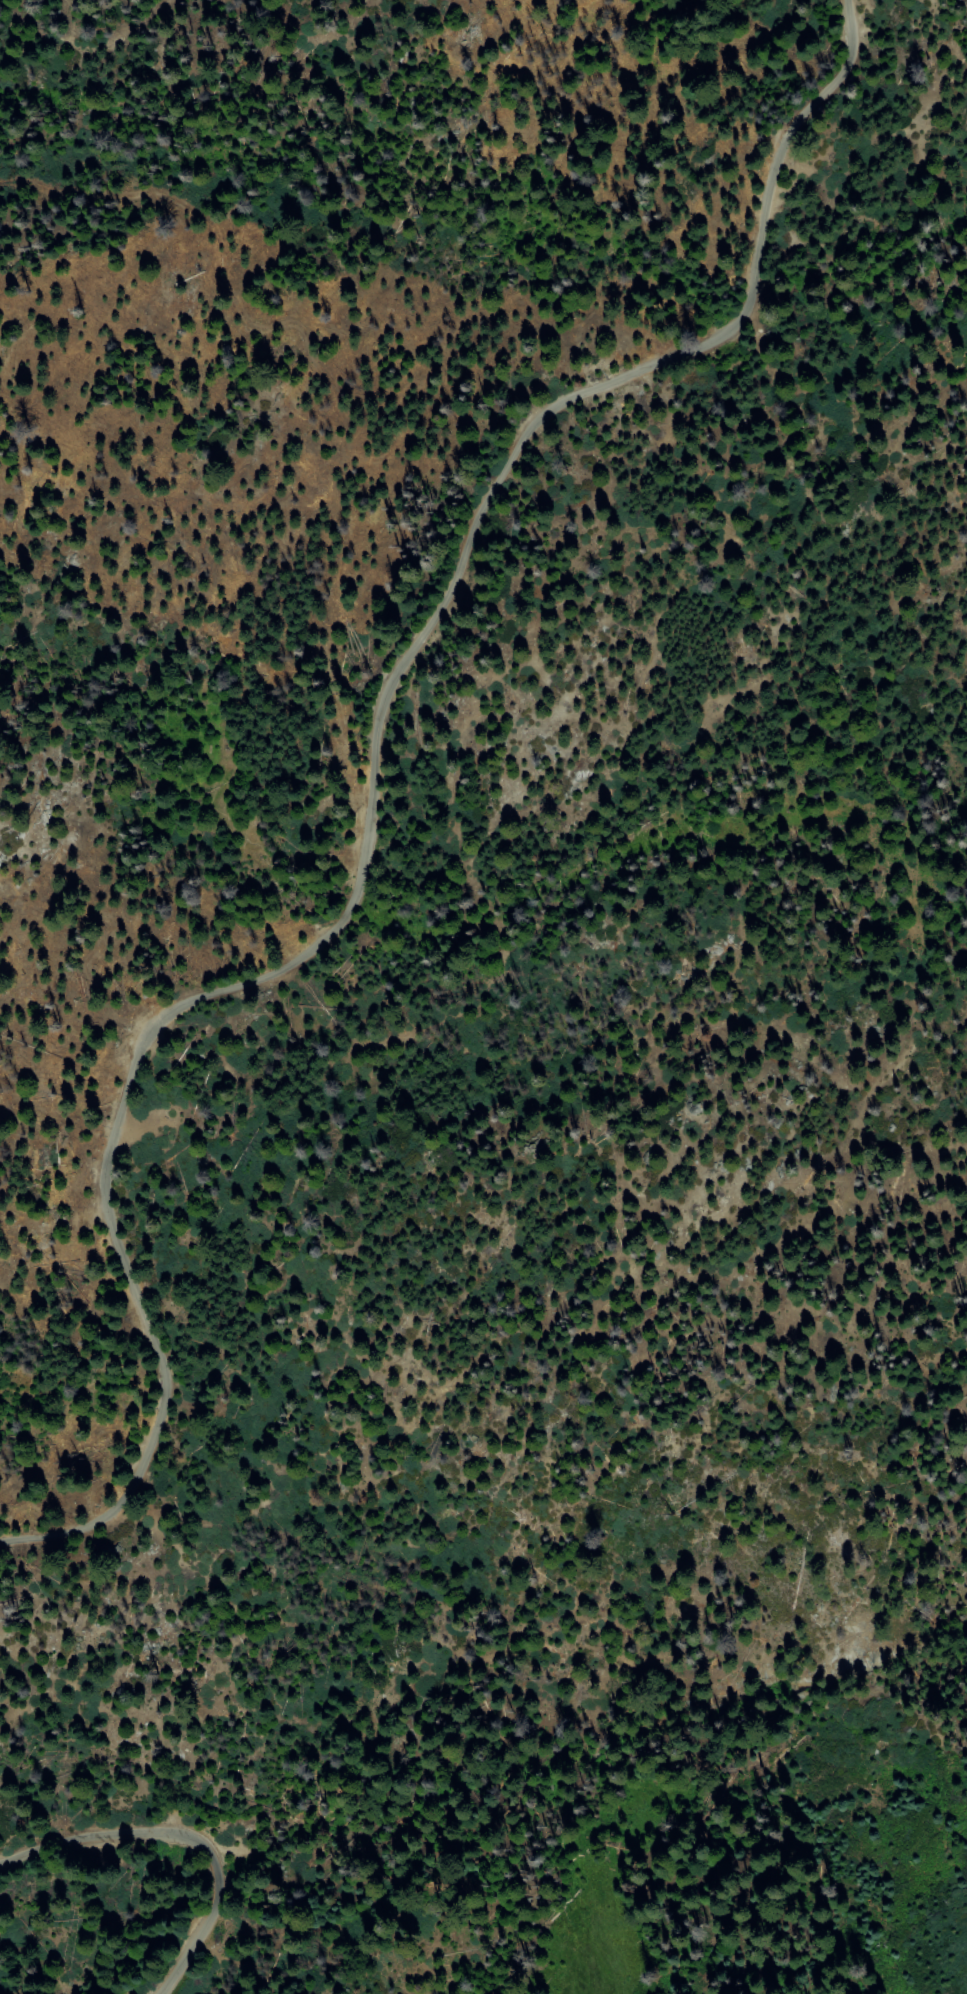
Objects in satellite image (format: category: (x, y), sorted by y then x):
road: (369, 782)
road: (179, 1839)

